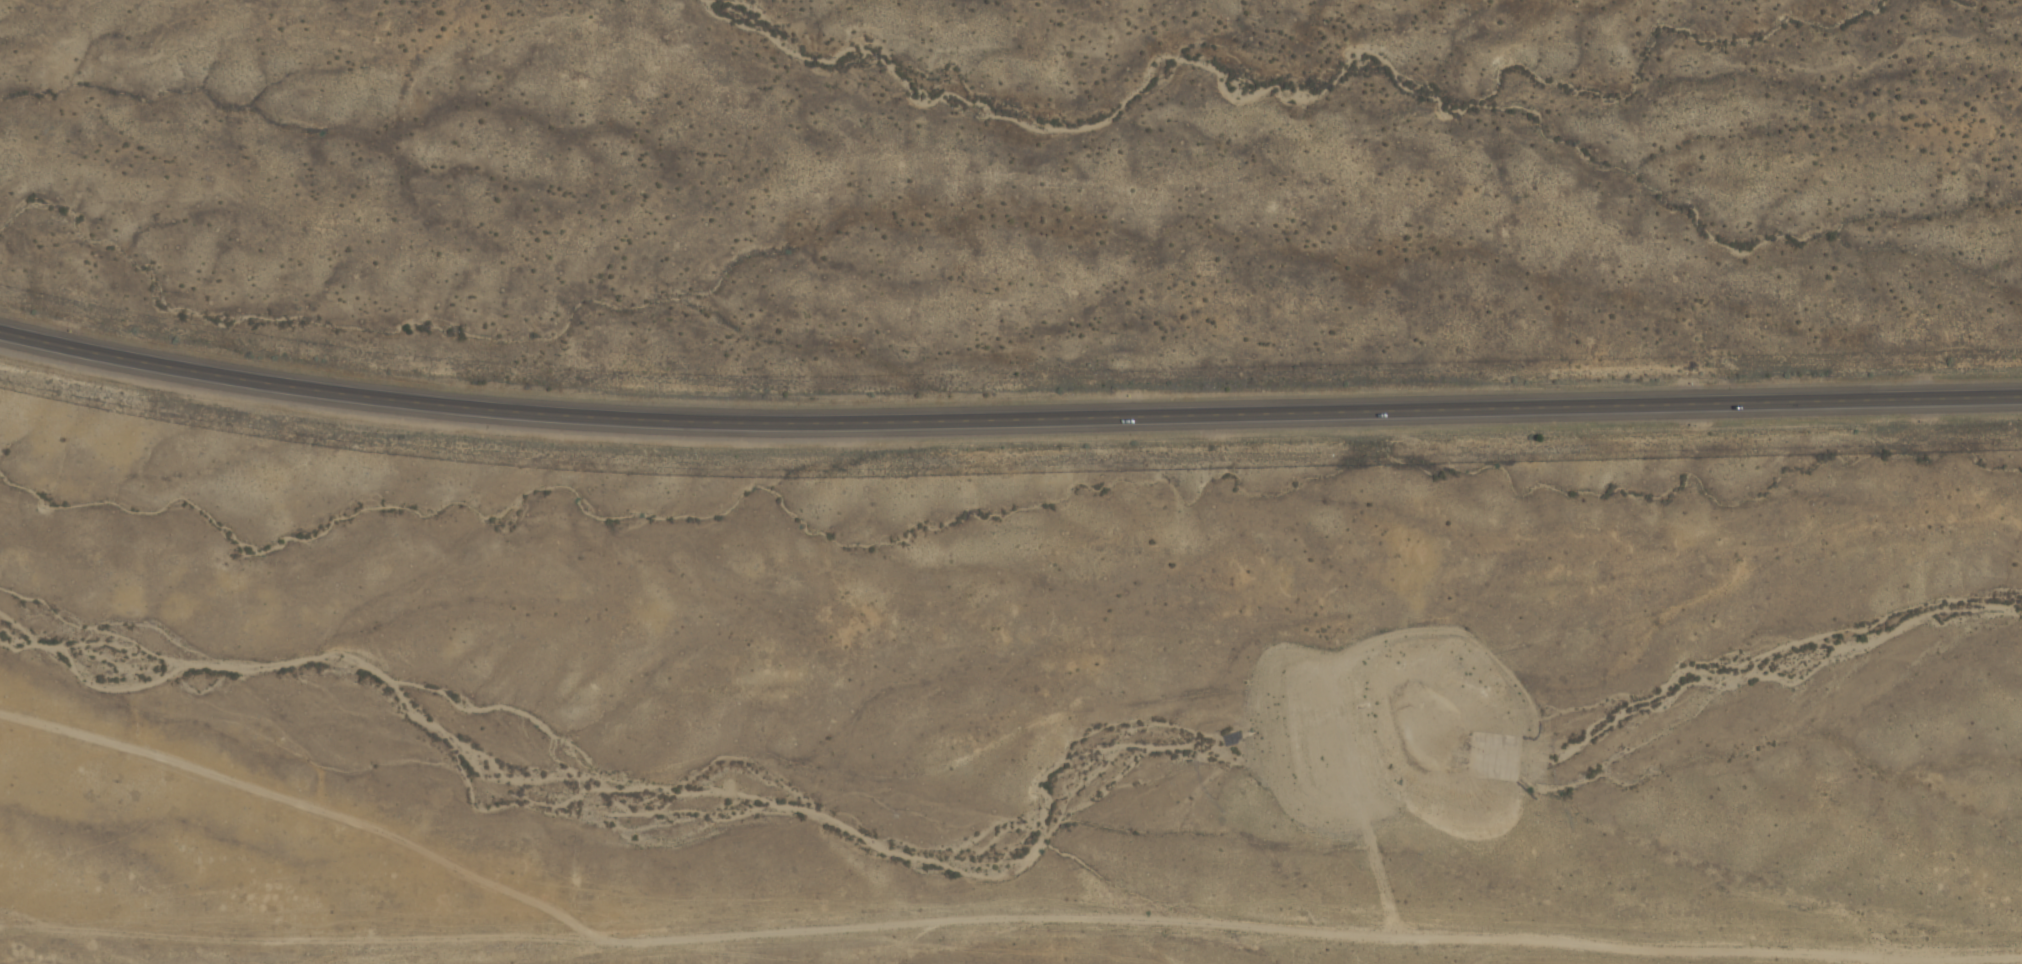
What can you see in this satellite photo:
road: (1007, 415)
road: (628, 944)
road: (1661, 952)

